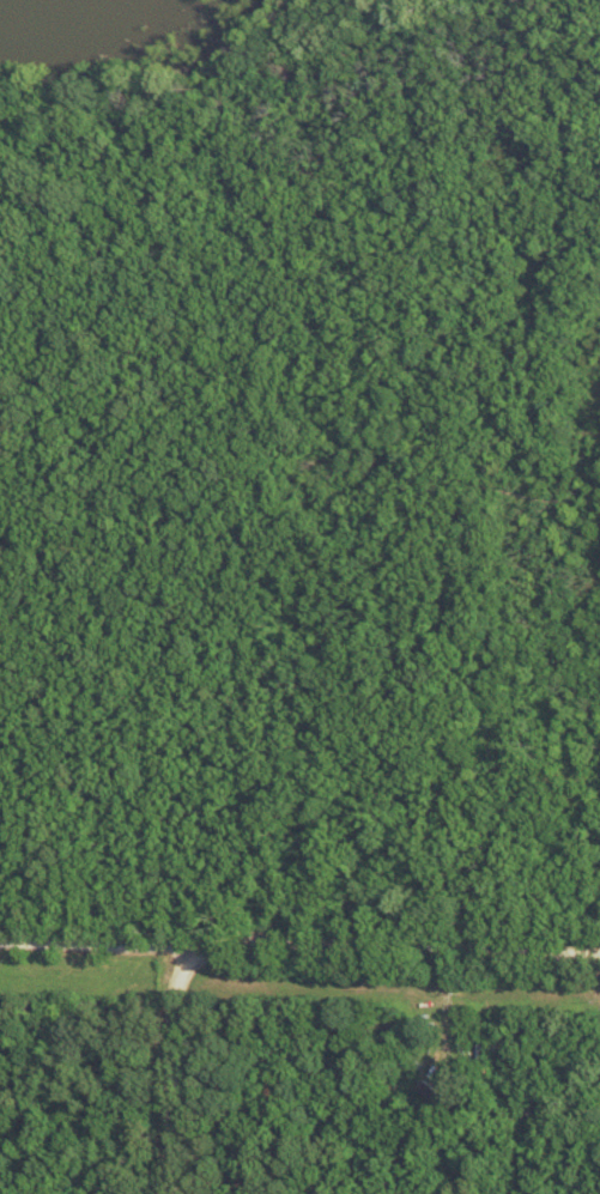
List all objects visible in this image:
road: (273, 940)
road: (102, 951)
building: (441, 1096)

